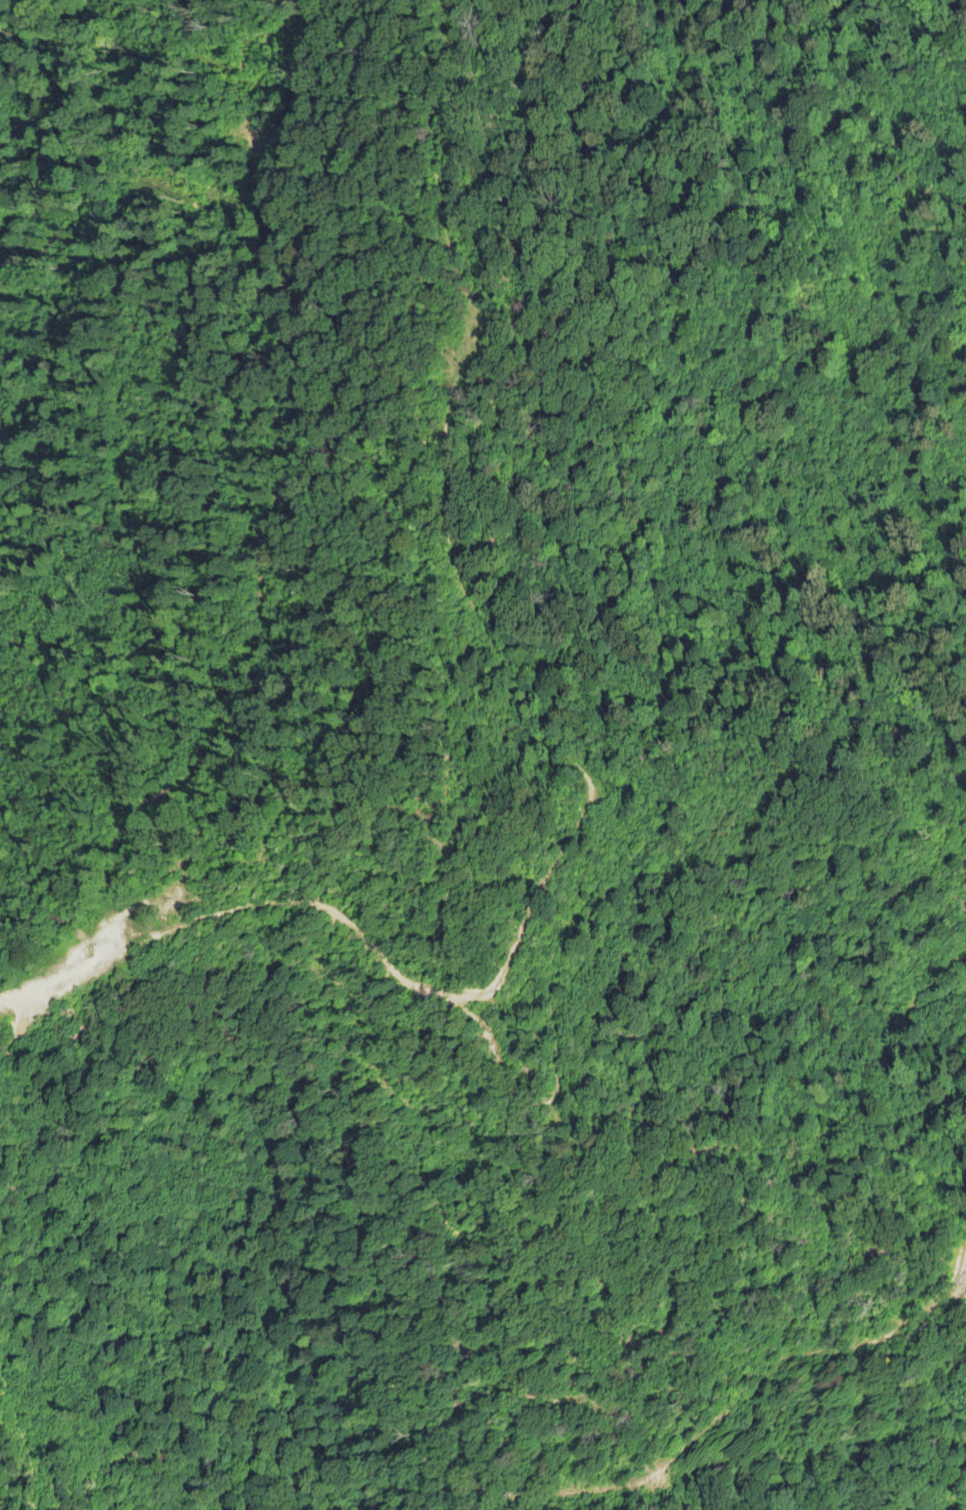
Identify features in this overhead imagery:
road: (145, 953)

